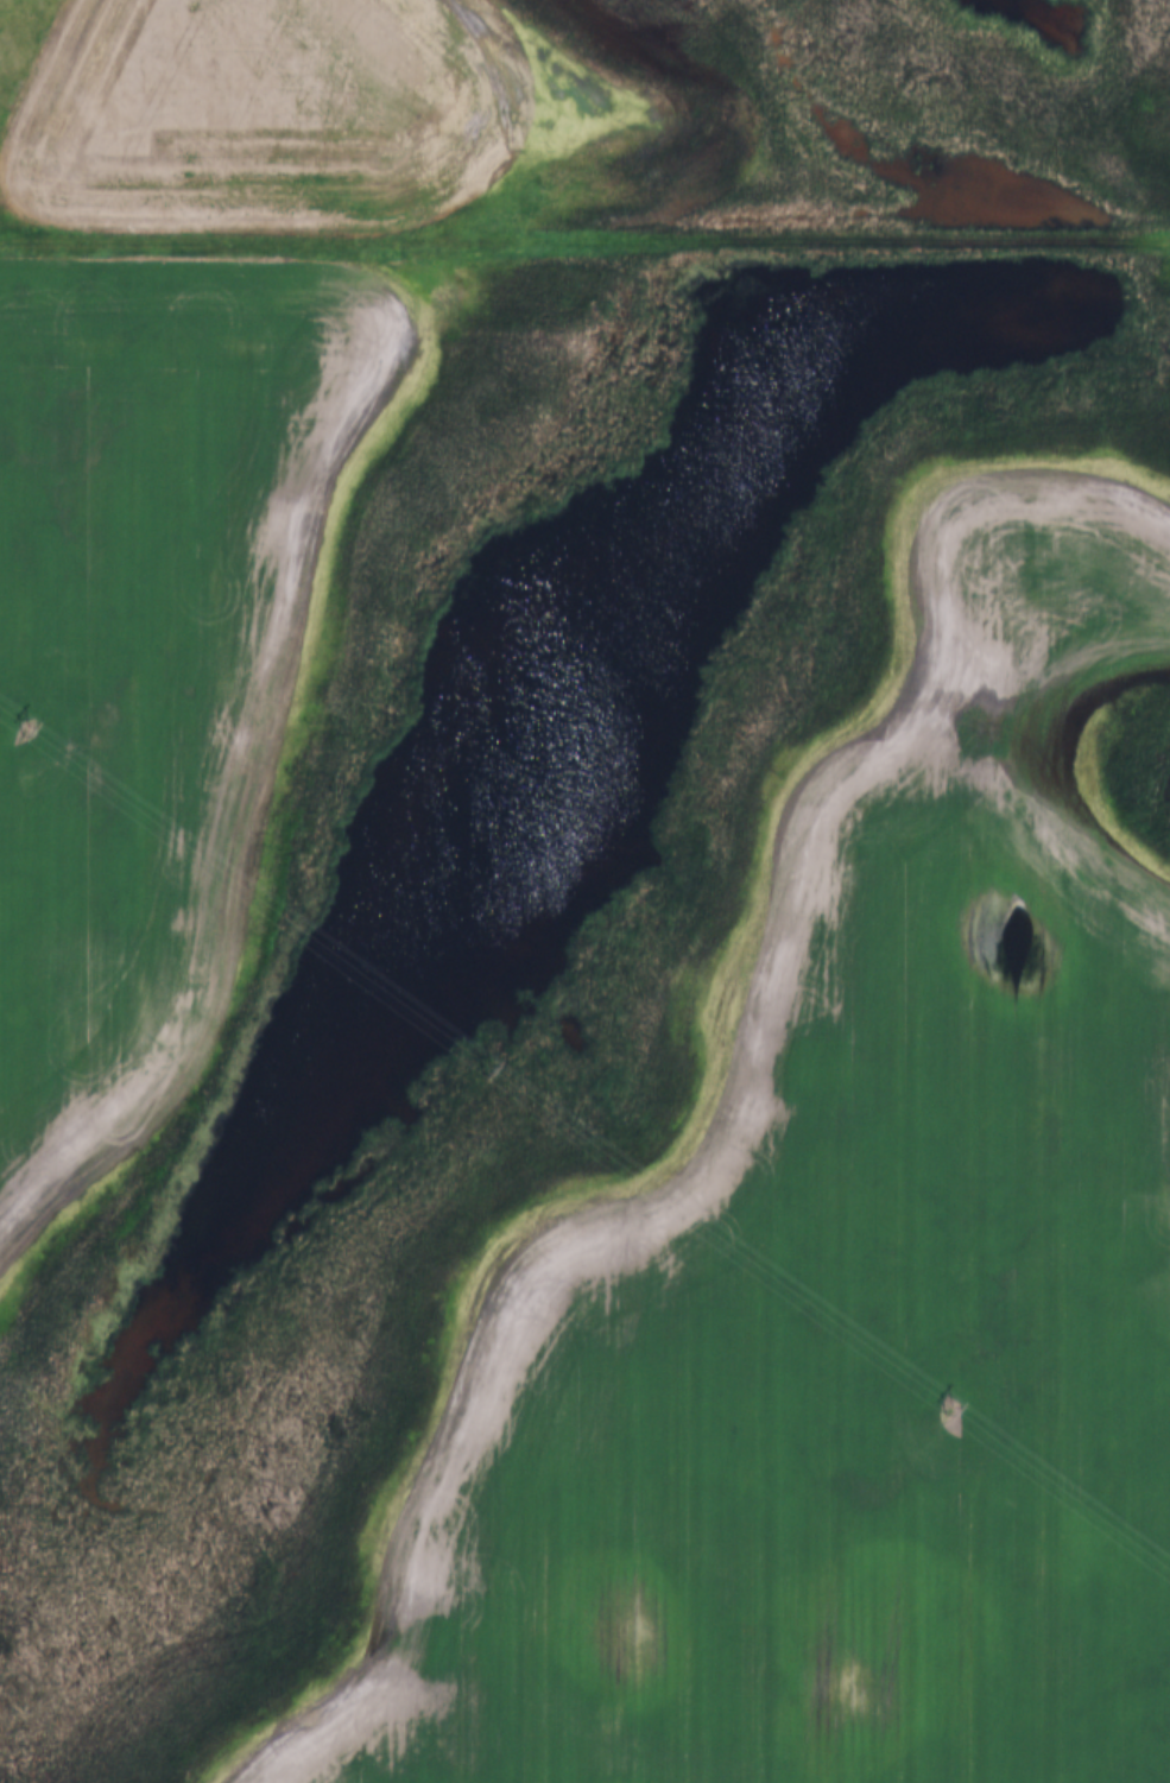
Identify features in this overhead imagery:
road: (584, 236)

